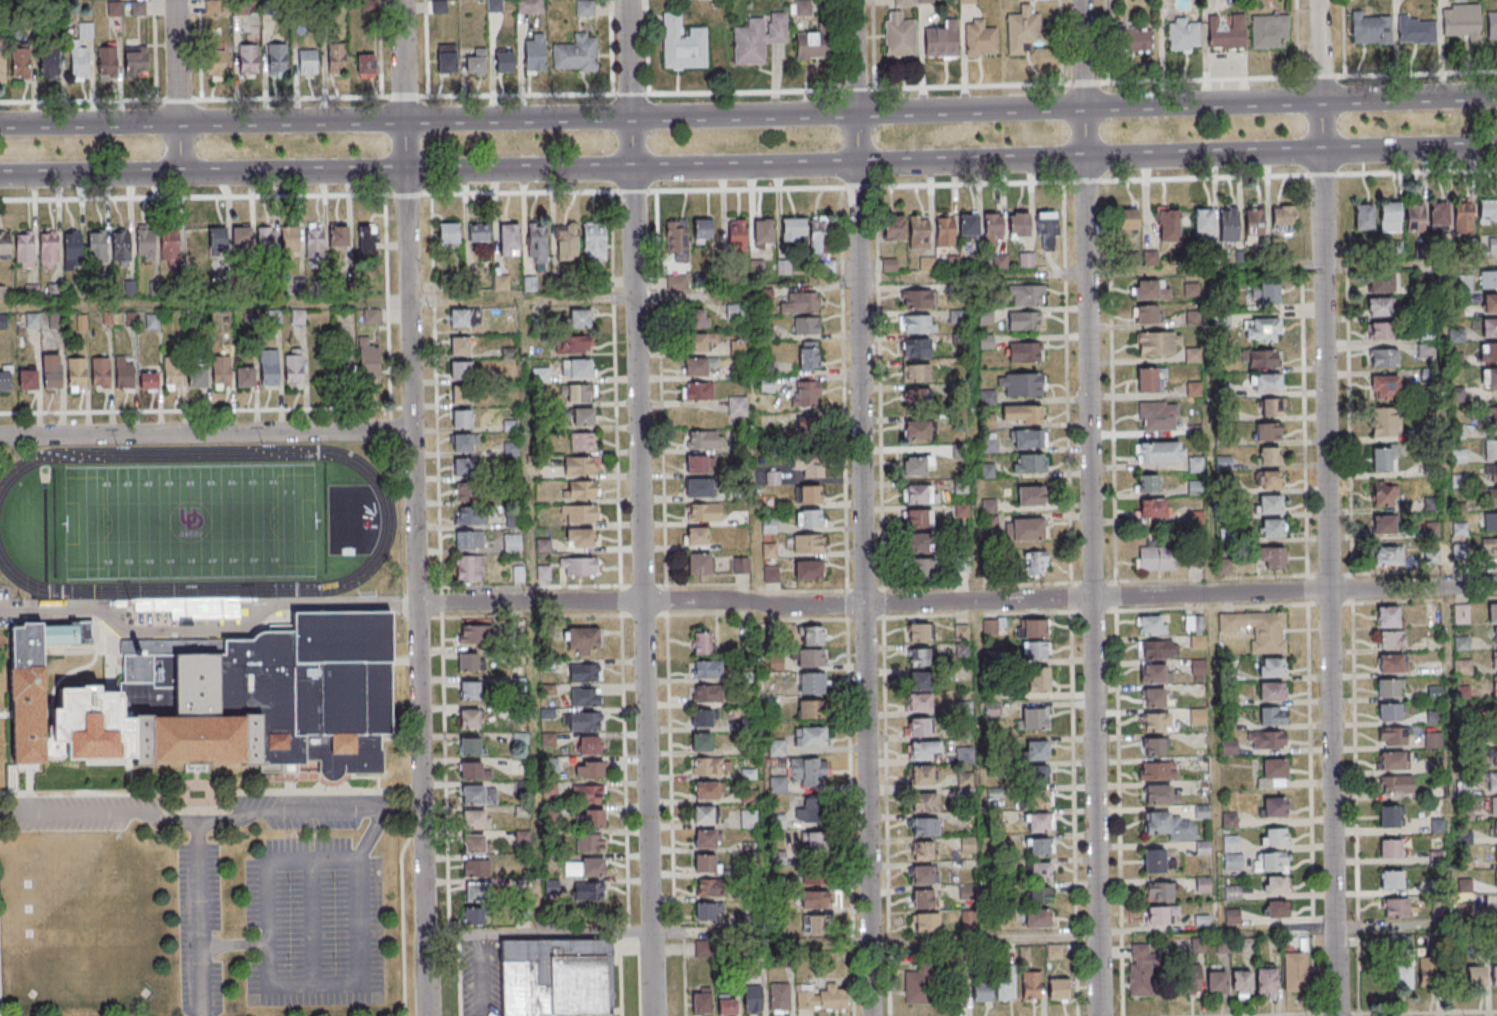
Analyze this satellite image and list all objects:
building: (1023, 0)
building: (965, 1)
building: (923, 2)
building: (495, 5)
building: (529, 7)
building: (585, 8)
building: (803, 11)
building: (1462, 22)
building: (1491, 26)
building: (1370, 29)
building: (1415, 31)
building: (1022, 32)
building: (1225, 32)
building: (1269, 32)
building: (1184, 35)
building: (899, 38)
building: (980, 38)
building: (758, 39)
building: (1134, 39)
building: (942, 40)
building: (681, 45)
building: (811, 45)
road: (379, 48)
building: (534, 53)
building: (575, 55)
building: (337, 57)
building: (447, 59)
building: (248, 60)
building: (277, 60)
building: (78, 61)
building: (135, 61)
road: (176, 61)
building: (2, 62)
building: (107, 62)
building: (216, 62)
building: (307, 62)
building: (20, 63)
building: (49, 63)
building: (476, 63)
building: (504, 63)
building: (366, 65)
road: (1381, 75)
road: (1200, 78)
road: (965, 85)
road: (741, 90)
road: (517, 92)
road: (837, 113)
road: (89, 123)
road: (178, 148)
road: (838, 165)
road: (89, 175)
road: (748, 188)
building: (1488, 212)
building: (1364, 216)
building: (1389, 216)
building: (1439, 217)
building: (1463, 217)
building: (1415, 218)
building: (1127, 219)
building: (1282, 220)
building: (1204, 223)
building: (1018, 224)
building: (1168, 225)
building: (1253, 226)
building: (968, 227)
building: (893, 228)
building: (992, 228)
building: (1228, 228)
building: (793, 230)
building: (1046, 230)
building: (702, 231)
building: (944, 231)
building: (478, 232)
building: (763, 232)
building: (919, 232)
building: (448, 233)
building: (339, 235)
building: (737, 235)
building: (241, 236)
building: (217, 237)
building: (266, 237)
building: (367, 237)
building: (509, 239)
building: (677, 239)
building: (290, 240)
building: (315, 241)
building: (594, 242)
building: (145, 243)
building: (170, 243)
building: (566, 243)
building: (5, 245)
building: (537, 245)
building: (1489, 245)
building: (97, 246)
building: (120, 246)
building: (821, 247)
building: (48, 248)
building: (24, 250)
building: (72, 250)
building: (1143, 258)
building: (1026, 259)
building: (757, 267)
building: (783, 267)
building: (1488, 279)
building: (1424, 280)
building: (1381, 281)
building: (698, 283)
building: (1462, 283)
building: (1146, 289)
building: (1191, 290)
building: (2, 292)
building: (1265, 292)
building: (1027, 294)
building: (915, 298)
building: (801, 302)
building: (1490, 303)
building: (1382, 307)
building: (734, 311)
building: (1145, 314)
building: (371, 317)
building: (580, 318)
building: (695, 318)
building: (458, 320)
building: (152, 321)
building: (1024, 321)
building: (914, 323)
building: (808, 325)
building: (1489, 327)
building: (1262, 330)
building: (1379, 331)
building: (1456, 334)
building: (699, 342)
building: (1158, 343)
building: (573, 344)
building: (458, 348)
building: (916, 349)
building: (1426, 350)
building: (1488, 352)
building: (1024, 353)
building: (808, 354)
building: (1383, 357)
building: (1262, 358)
building: (368, 360)
building: (699, 365)
building: (344, 366)
building: (269, 367)
building: (293, 367)
building: (578, 367)
building: (221, 371)
building: (51, 372)
building: (100, 372)
building: (916, 372)
building: (173, 373)
building: (459, 373)
building: (76, 374)
building: (123, 374)
building: (539, 375)
building: (1428, 375)
building: (197, 377)
building: (245, 377)
building: (1489, 378)
building: (5, 379)
building: (28, 379)
building: (1147, 379)
building: (149, 381)
building: (1265, 383)
building: (1021, 385)
building: (1384, 386)
building: (697, 391)
building: (580, 393)
building: (806, 393)
building: (460, 397)
building: (916, 399)
building: (737, 406)
building: (1271, 407)
building: (1023, 414)
building: (1156, 416)
building: (1492, 416)
building: (582, 417)
building: (461, 421)
building: (1386, 422)
building: (809, 429)
building: (917, 431)
building: (1267, 431)
road: (205, 433)
building: (705, 439)
building: (1028, 439)
building: (581, 442)
building: (462, 445)
building: (1491, 448)
building: (1159, 453)
building: (1269, 455)
building: (1383, 458)
building: (697, 463)
building: (1028, 463)
building: (1196, 464)
building: (808, 465)
building: (916, 465)
building: (579, 466)
building: (462, 469)
building: (1495, 472)
building: (1268, 479)
building: (1147, 484)
building: (699, 488)
building: (1195, 488)
building: (581, 490)
building: (464, 492)
building: (1383, 493)
building: (919, 494)
building: (809, 495)
building: (1030, 496)
building: (1490, 497)
building: (1268, 504)
road: (413, 507)
road: (639, 507)
road: (861, 507)
road: (1090, 507)
road: (1326, 508)
building: (1152, 509)
building: (703, 512)
building: (582, 513)
building: (470, 515)
building: (920, 517)
building: (1195, 517)
building: (810, 518)
building: (1490, 521)
park: (188, 522)
track: (386, 525)
building: (1383, 525)
building: (1273, 527)
building: (1025, 529)
building: (697, 535)
building: (581, 537)
building: (918, 541)
building: (468, 542)
building: (512, 543)
building: (809, 543)
building: (1489, 549)
building: (769, 550)
building: (1388, 555)
building: (1271, 558)
building: (1434, 558)
building: (1156, 559)
building: (1195, 559)
building: (699, 563)
building: (1035, 563)
building: (1225, 564)
building: (741, 565)
building: (578, 566)
building: (469, 567)
building: (921, 567)
building: (808, 569)
building: (772, 574)
road: (1070, 598)
road: (956, 602)
road: (620, 604)
road: (666, 604)
road: (440, 606)
building: (1461, 613)
building: (1492, 613)
building: (1388, 616)
building: (1151, 624)
building: (993, 625)
building: (1035, 627)
road: (207, 628)
building: (1257, 629)
building: (1196, 630)
building: (917, 632)
building: (477, 634)
building: (811, 635)
building: (1495, 635)
building: (1391, 639)
building: (581, 640)
building: (701, 642)
road: (1351, 643)
road: (1307, 644)
road: (1115, 647)
building: (1035, 649)
building: (1158, 649)
building: (920, 656)
building: (811, 657)
building: (1494, 658)
building: (1390, 663)
building: (467, 665)
building: (1462, 666)
building: (1271, 667)
building: (706, 669)
building: (580, 673)
building: (1152, 673)
building: (1037, 680)
building: (919, 681)
building: (812, 683)
building: (1494, 683)
building: (33, 687)
building: (1387, 687)
building: (1270, 691)
building: (1434, 692)
building: (469, 693)
building: (706, 693)
building: (1153, 697)
building: (584, 699)
building: (240, 700)
building: (919, 703)
building: (1495, 708)
building: (810, 709)
building: (1389, 711)
building: (1271, 715)
building: (703, 717)
building: (1033, 719)
building: (468, 721)
building: (583, 721)
building: (1155, 721)
building: (919, 728)
building: (810, 736)
building: (1392, 736)
building: (1266, 739)
building: (1433, 739)
building: (701, 741)
building: (1151, 747)
building: (589, 748)
building: (777, 748)
building: (469, 750)
building: (1036, 750)
building: (924, 751)
building: (964, 756)
building: (1493, 756)
building: (1391, 760)
building: (712, 766)
building: (474, 771)
building: (1157, 771)
building: (592, 772)
building: (809, 772)
building: (1272, 773)
building: (1036, 774)
building: (1203, 774)
building: (921, 775)
building: (1492, 781)
building: (1398, 784)
building: (777, 785)
building: (523, 786)
building: (706, 790)
building: (587, 794)
building: (1158, 794)
building: (750, 797)
building: (473, 798)
building: (1039, 799)
building: (924, 801)
building: (1493, 805)
building: (1274, 808)
building: (810, 810)
road: (307, 811)
parking lot: (78, 813)
road: (99, 813)
building: (704, 814)
building: (1389, 816)
building: (589, 818)
building: (748, 819)
building: (1230, 820)
building: (474, 822)
building: (1039, 822)
building: (1169, 825)
building: (923, 826)
building: (1493, 830)
road: (369, 835)
building: (1273, 837)
building: (706, 838)
building: (590, 842)
building: (813, 843)
building: (967, 844)
building: (1038, 846)
building: (473, 847)
building: (1390, 848)
building: (922, 850)
building: (1496, 854)
building: (1156, 861)
building: (1270, 861)
building: (707, 863)
building: (584, 867)
building: (476, 868)
building: (1040, 871)
building: (923, 874)
building: (814, 877)
building: (1496, 878)
building: (1391, 879)
building: (1203, 884)
building: (1276, 884)
building: (709, 887)
building: (965, 891)
building: (589, 892)
building: (1159, 892)
building: (1232, 892)
building: (474, 895)
building: (1038, 895)
building: (923, 898)
building: (814, 900)
building: (1394, 907)
building: (1277, 909)
building: (1465, 910)
building: (708, 911)
building: (1159, 914)
building: (473, 916)
building: (1232, 916)
building: (1036, 918)
road: (198, 919)
building: (968, 920)
road: (311, 923)
parking lot: (312, 925)
building: (816, 925)
road: (1415, 925)
building: (924, 926)
parking lot: (198, 928)
road: (233, 945)
building: (1197, 946)
building: (702, 948)
building: (1141, 971)
building: (1428, 971)
building: (1296, 972)
building: (1494, 973)
building: (1473, 975)
building: (554, 976)
building: (1402, 976)
building: (1191, 980)
building: (1266, 981)
building: (1007, 982)
building: (1217, 982)
building: (1242, 982)
building: (919, 984)
building: (1031, 985)
road: (268, 986)
building: (1057, 989)
building: (982, 992)
building: (780, 997)
building: (821, 998)
building: (753, 999)
building: (702, 1001)
building: (726, 1004)
road: (1427, 1012)
road: (1335, 1013)
road: (1277, 1014)
road: (1313, 1014)
road: (1358, 1015)

